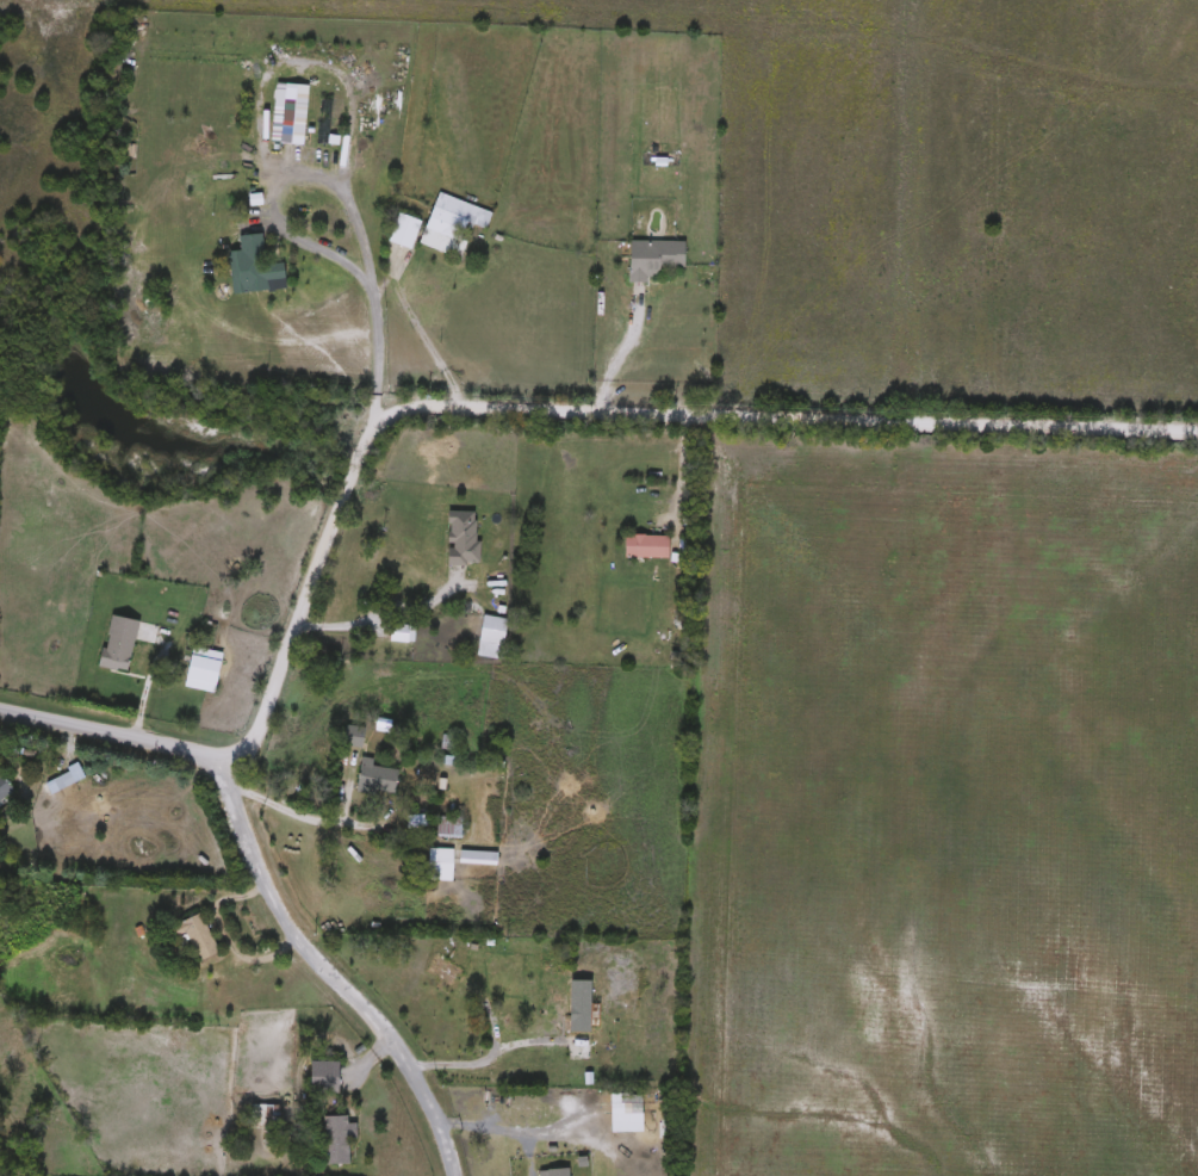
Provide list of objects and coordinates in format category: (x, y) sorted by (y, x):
road: (300, 58)
road: (340, 185)
building: (452, 224)
building: (404, 230)
building: (656, 258)
building: (253, 262)
road: (417, 332)
road: (621, 354)
road: (488, 404)
building: (459, 533)
building: (647, 547)
building: (411, 587)
road: (381, 615)
building: (494, 630)
building: (402, 633)
building: (119, 643)
building: (205, 669)
building: (353, 735)
building: (377, 778)
building: (64, 780)
building: (5, 786)
road: (297, 816)
building: (449, 828)
building: (479, 858)
building: (441, 865)
building: (201, 937)
road: (330, 960)
building: (445, 971)
road: (482, 1058)
building: (329, 1077)
building: (265, 1116)
building: (619, 1128)
building: (339, 1139)

